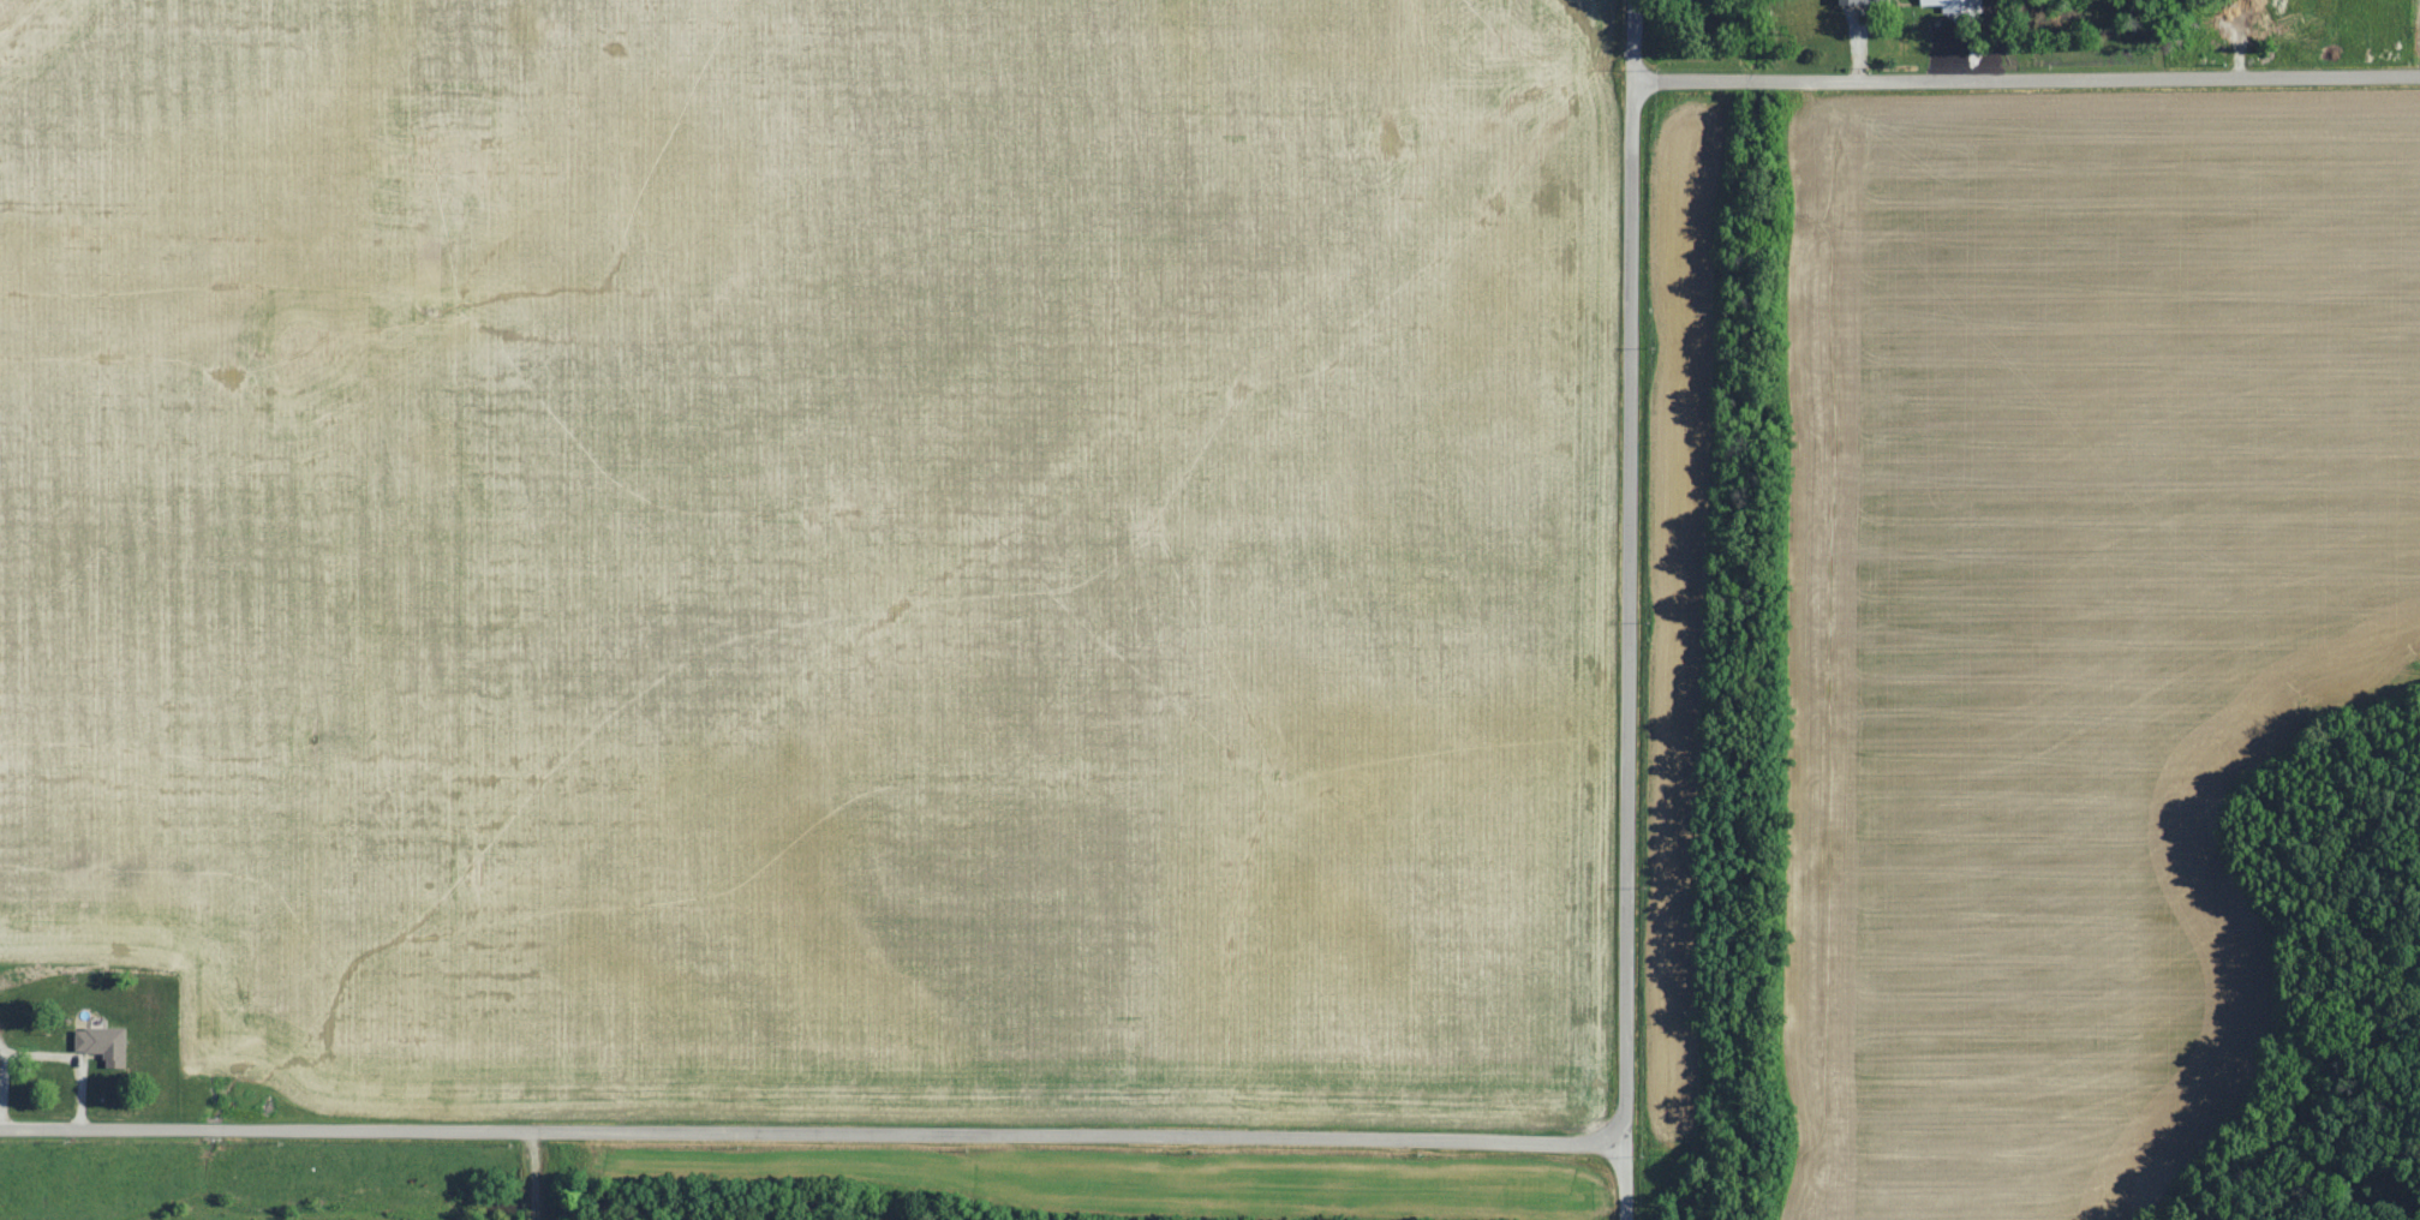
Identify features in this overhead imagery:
building: (1948, 0)
road: (2024, 86)
road: (1624, 609)
building: (106, 1045)
road: (811, 1136)

